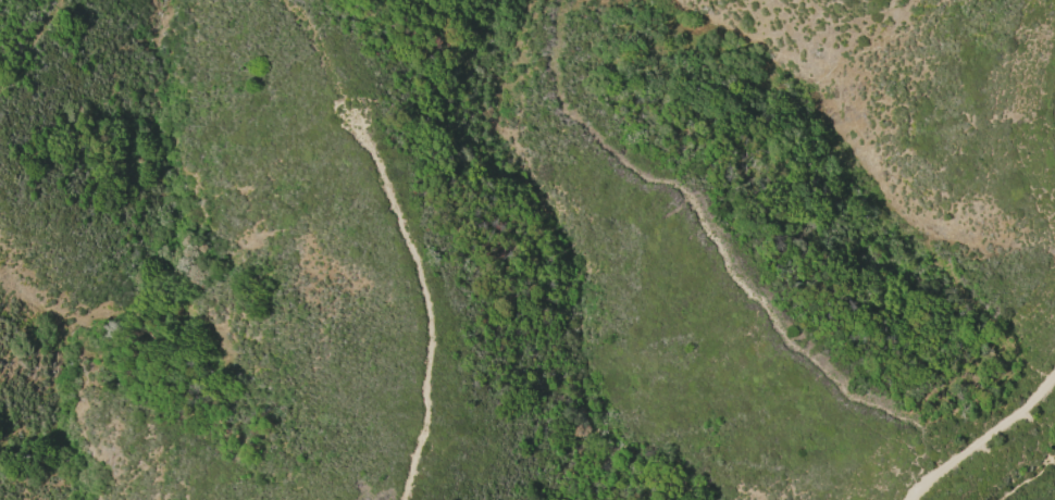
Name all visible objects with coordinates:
road: (985, 441)
road: (1027, 479)

